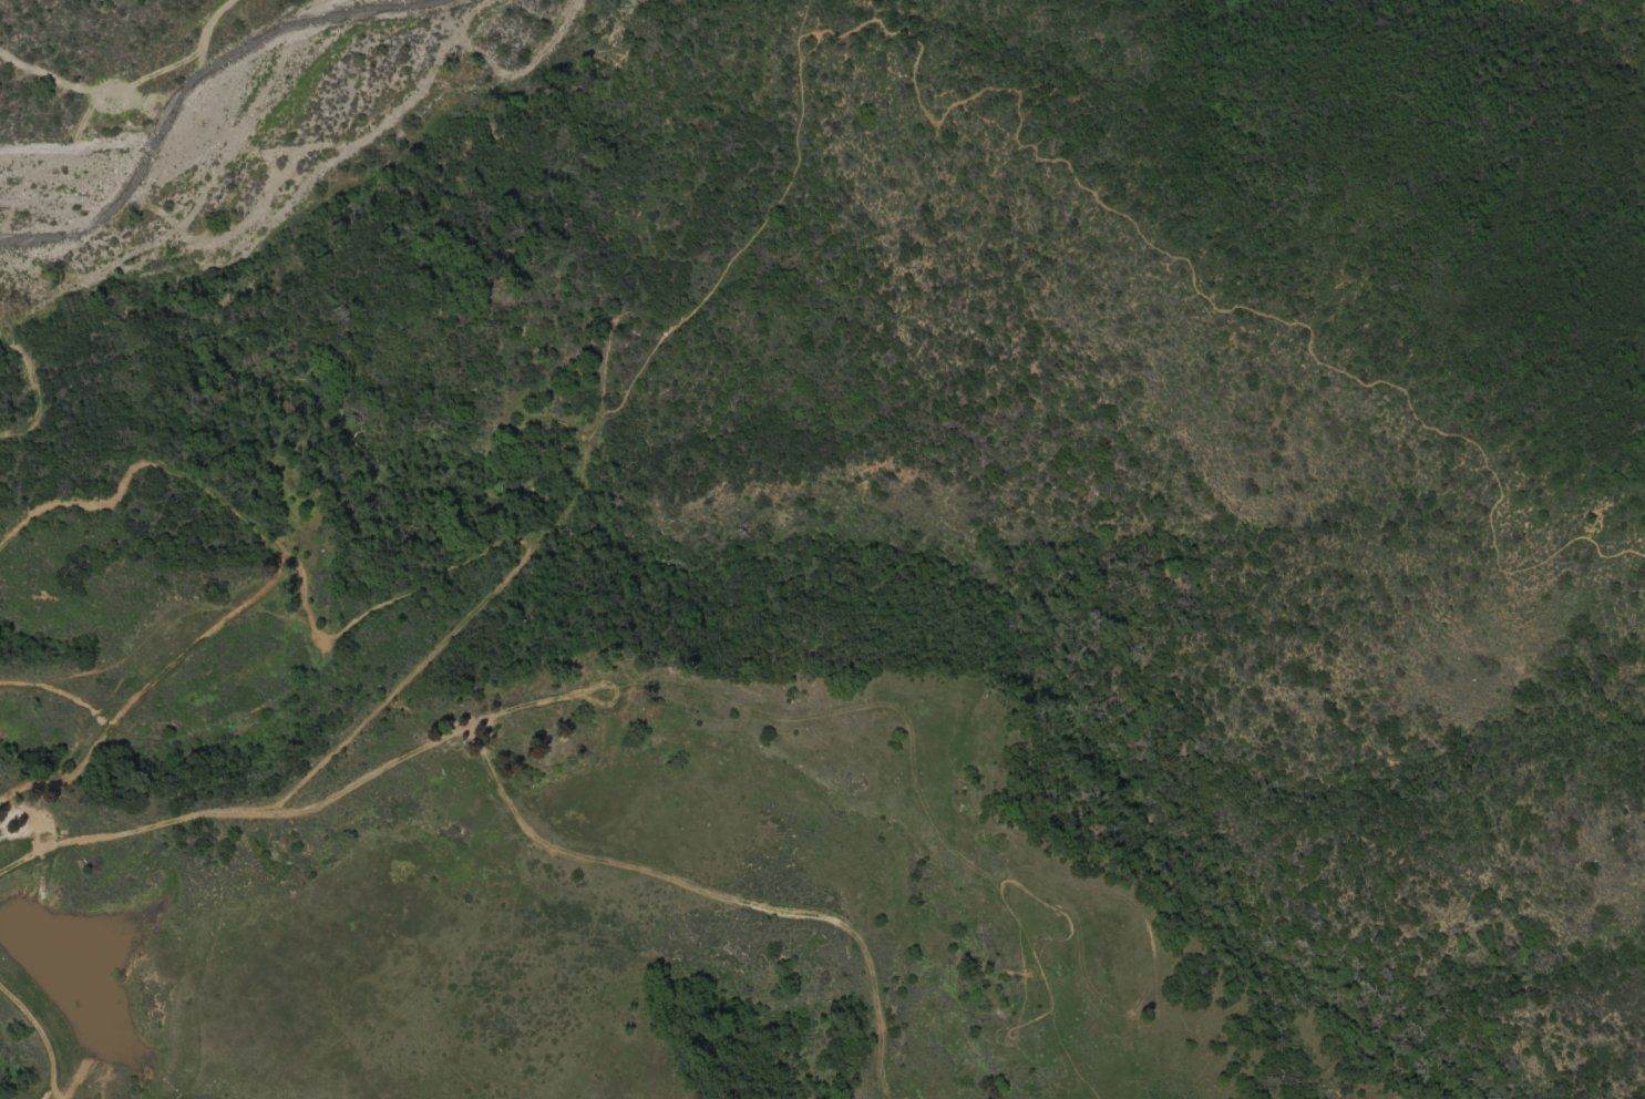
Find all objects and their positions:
road: (802, 17)
road: (811, 34)
road: (81, 134)
river: (233, 166)
road: (32, 391)

